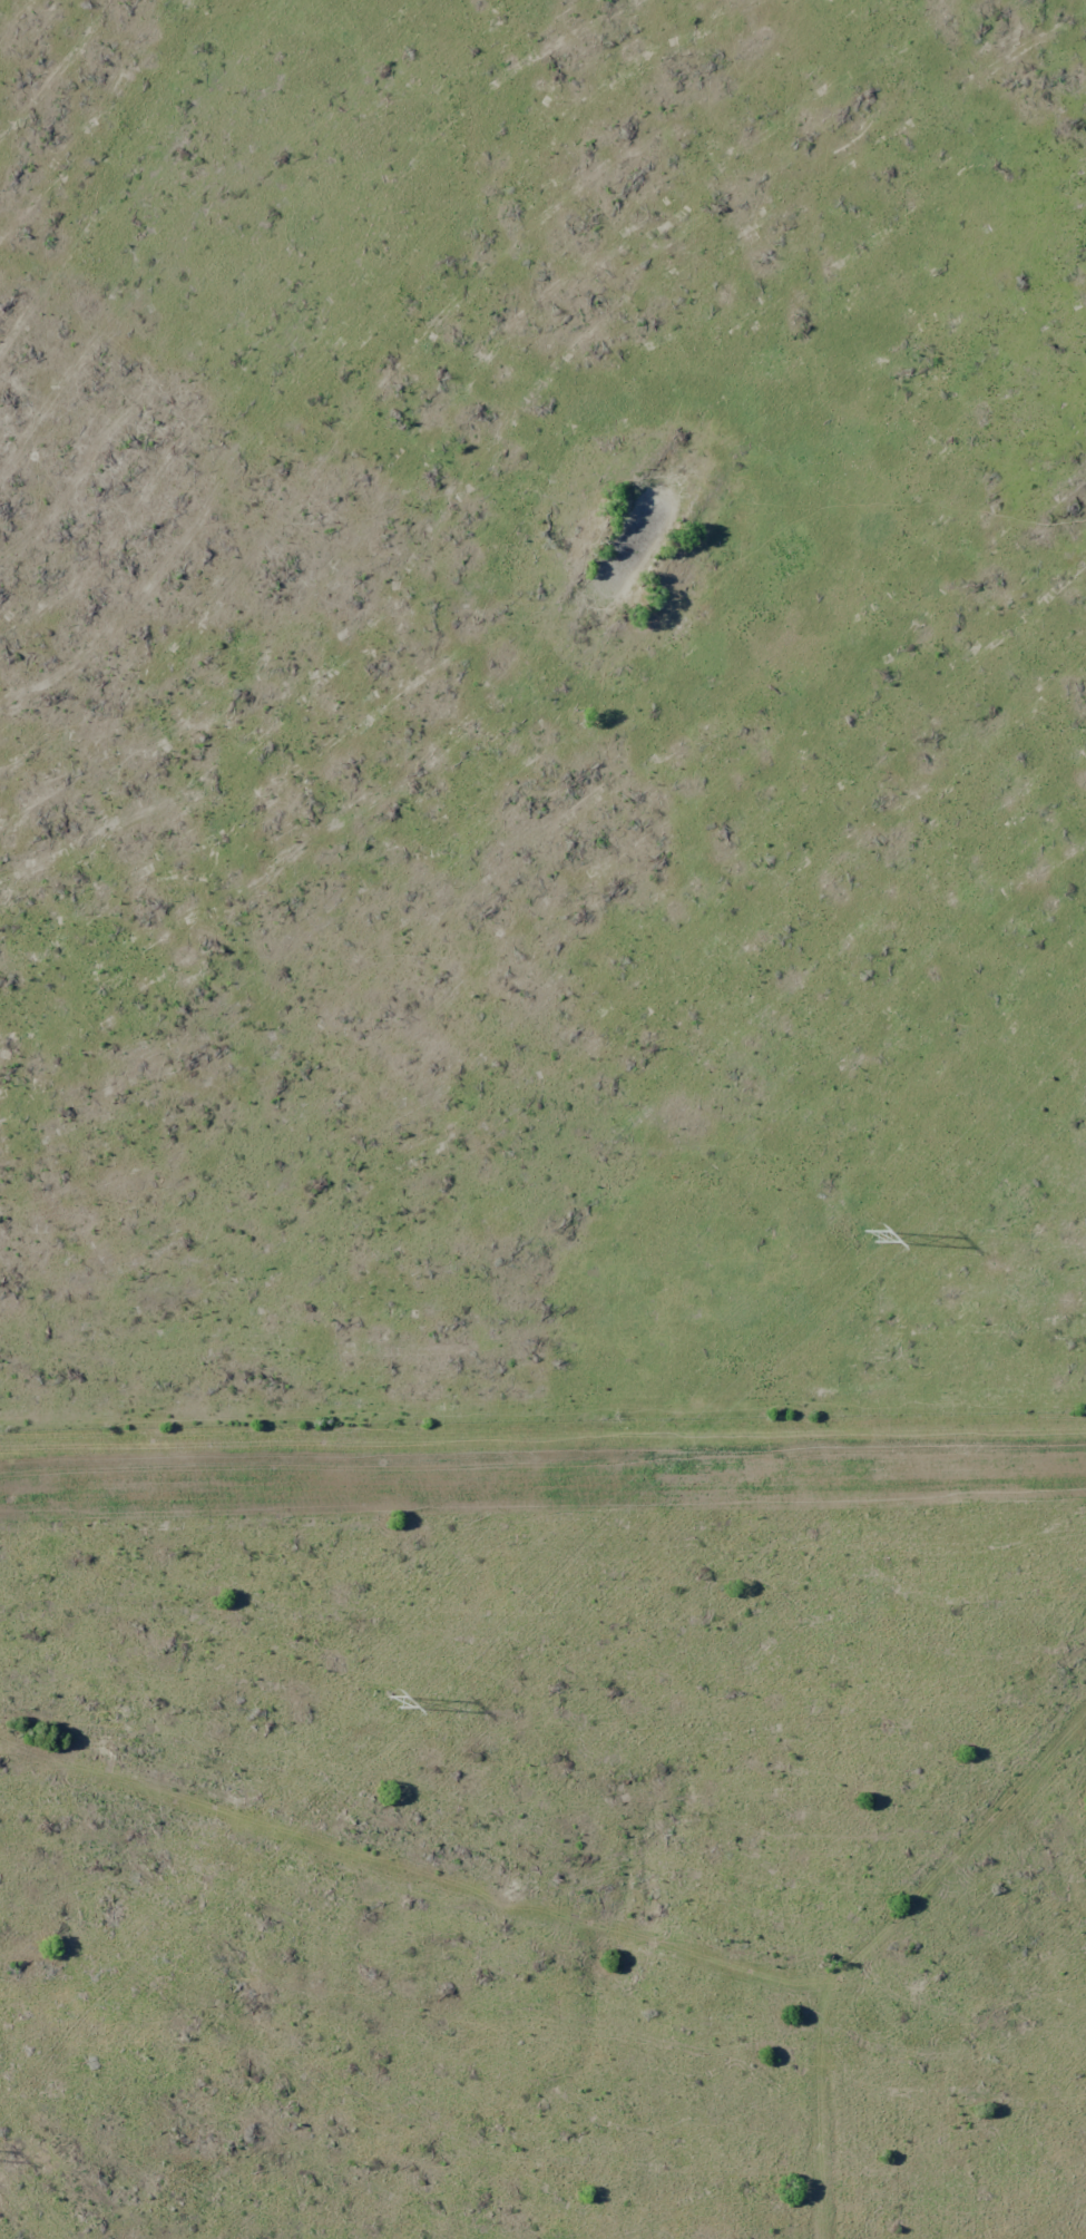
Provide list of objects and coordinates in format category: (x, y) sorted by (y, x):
power tower: (870, 1233)
power tower: (398, 1701)

